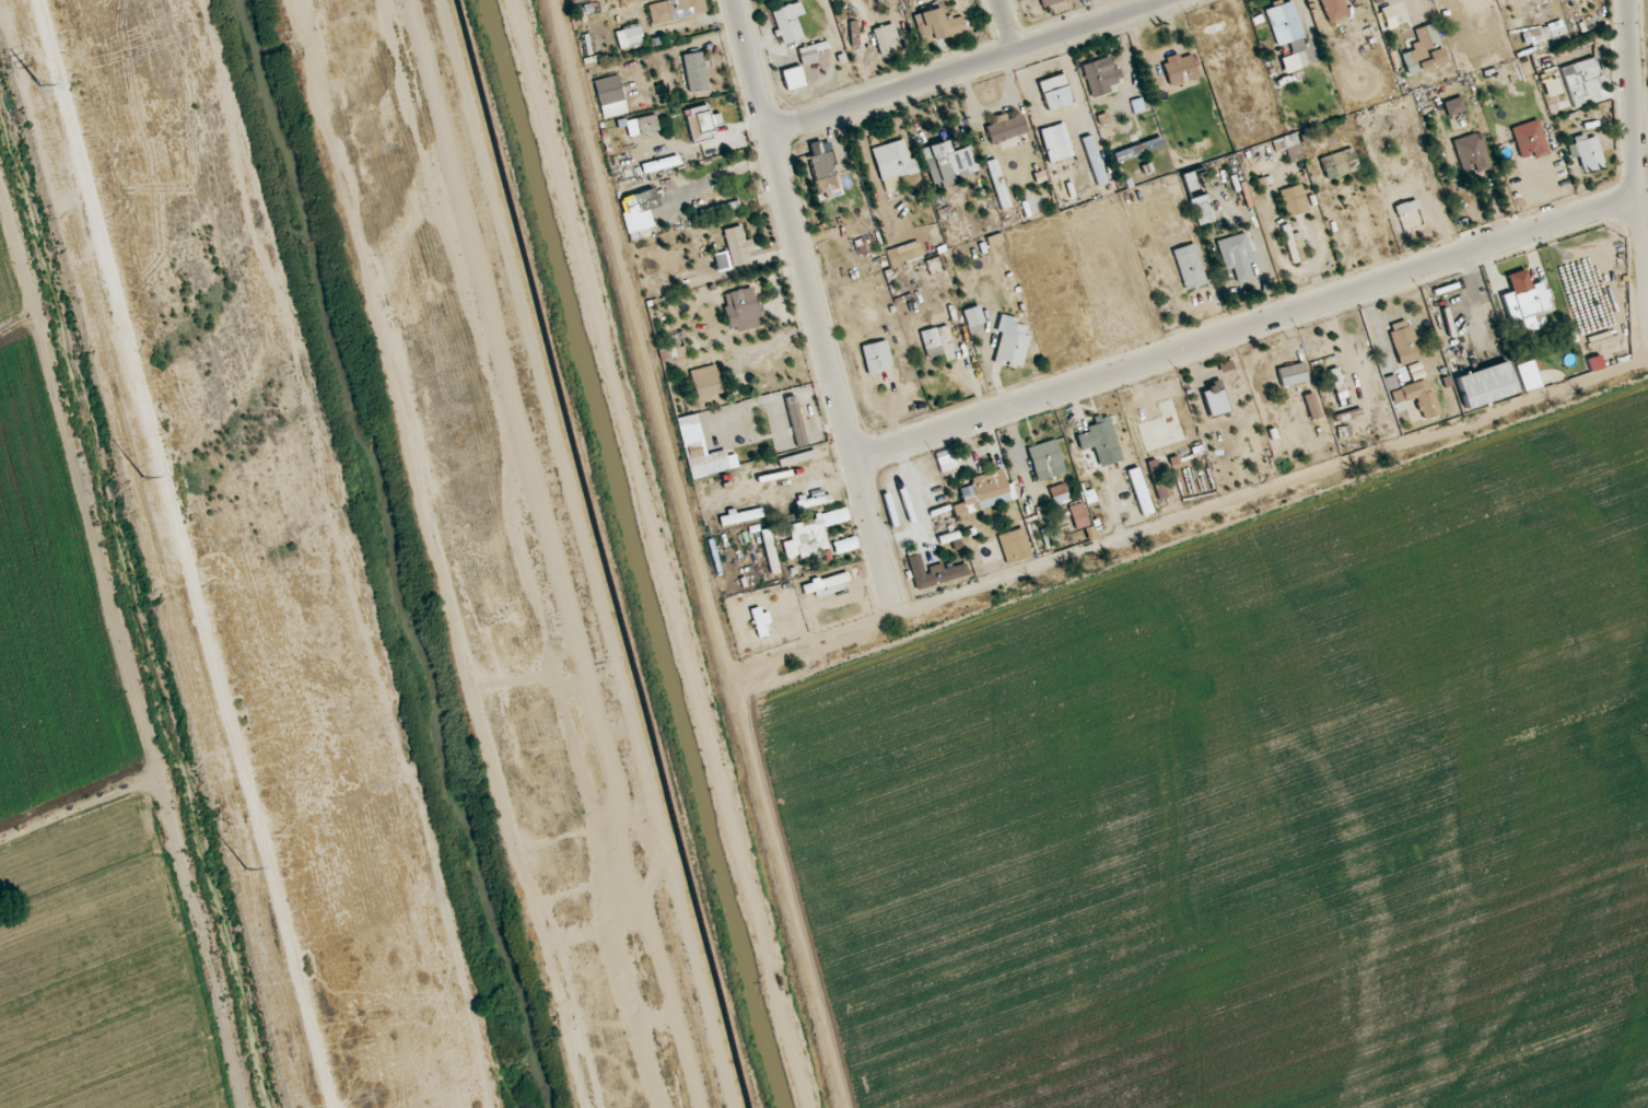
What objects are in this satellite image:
building: (1049, 2)
building: (606, 5)
building: (1334, 9)
building: (670, 10)
building: (787, 21)
building: (1285, 22)
building: (938, 24)
road: (1008, 25)
building: (630, 35)
building: (886, 38)
building: (1423, 50)
building: (809, 55)
road: (968, 67)
building: (1180, 68)
building: (696, 71)
building: (793, 77)
building: (1101, 77)
building: (1580, 80)
power tower: (32, 83)
building: (1552, 88)
building: (610, 91)
building: (1057, 97)
building: (1453, 105)
building: (646, 124)
building: (1005, 127)
building: (1530, 139)
building: (1056, 142)
road: (1637, 145)
building: (1471, 152)
building: (1586, 152)
building: (895, 160)
building: (1094, 160)
building: (949, 163)
building: (1340, 163)
building: (821, 165)
building: (998, 184)
building: (1293, 199)
building: (1407, 213)
building: (738, 244)
building: (904, 254)
building: (1236, 255)
building: (1190, 266)
building: (1524, 300)
road: (810, 303)
building: (743, 308)
building: (973, 315)
road: (1247, 328)
building: (1405, 341)
building: (931, 342)
building: (1010, 351)
building: (877, 357)
building: (1226, 366)
building: (1293, 374)
building: (1360, 383)
building: (1226, 384)
building: (1486, 384)
building: (1422, 396)
building: (1312, 405)
building: (1102, 436)
building: (1045, 459)
power tower: (137, 475)
building: (1157, 479)
building: (1139, 490)
building: (984, 492)
building: (813, 499)
building: (1079, 514)
building: (741, 516)
building: (816, 535)
building: (1005, 547)
building: (1039, 548)
river: (390, 553)
road: (577, 553)
building: (935, 573)
power tower: (242, 872)

